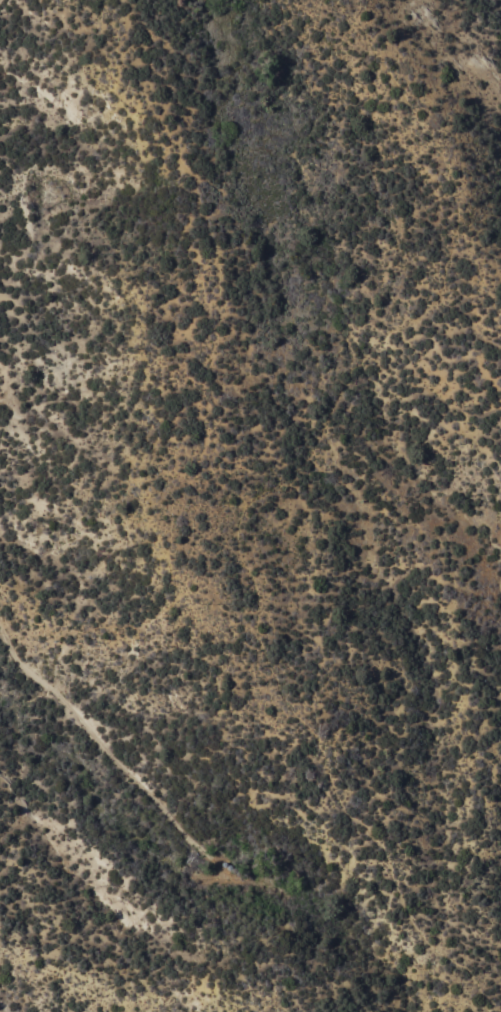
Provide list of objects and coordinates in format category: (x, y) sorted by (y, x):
road: (2, 3)
road: (90, 730)

